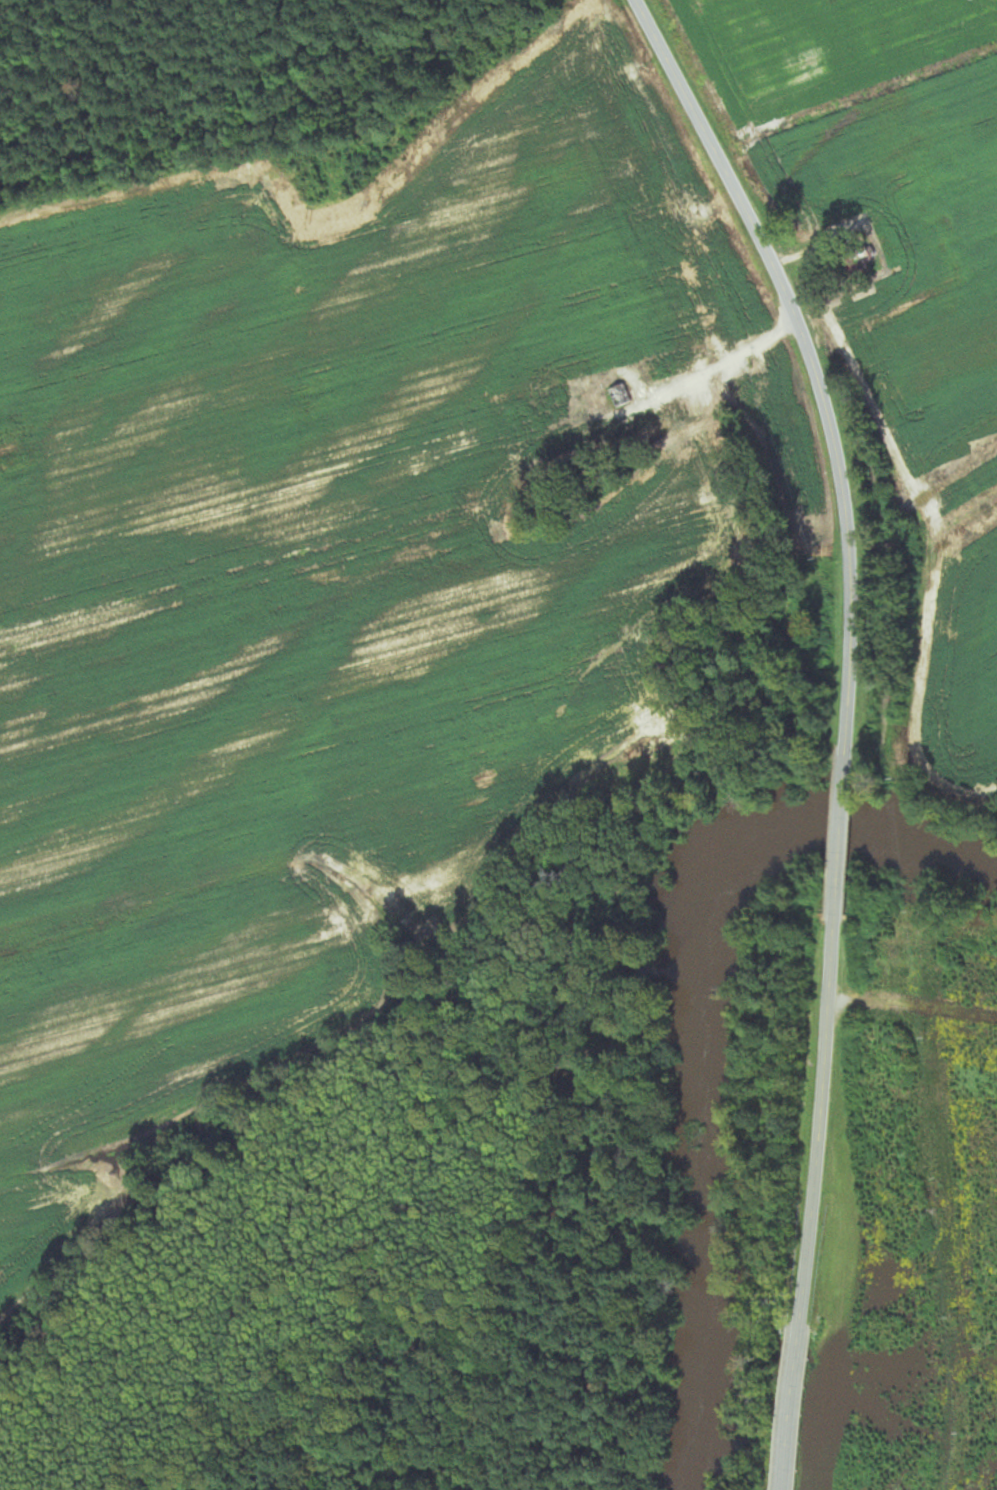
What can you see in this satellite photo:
road: (815, 371)
road: (686, 381)
building: (618, 396)
river: (748, 839)
road: (844, 845)
road: (898, 1102)
road: (812, 1200)
river: (712, 1280)

